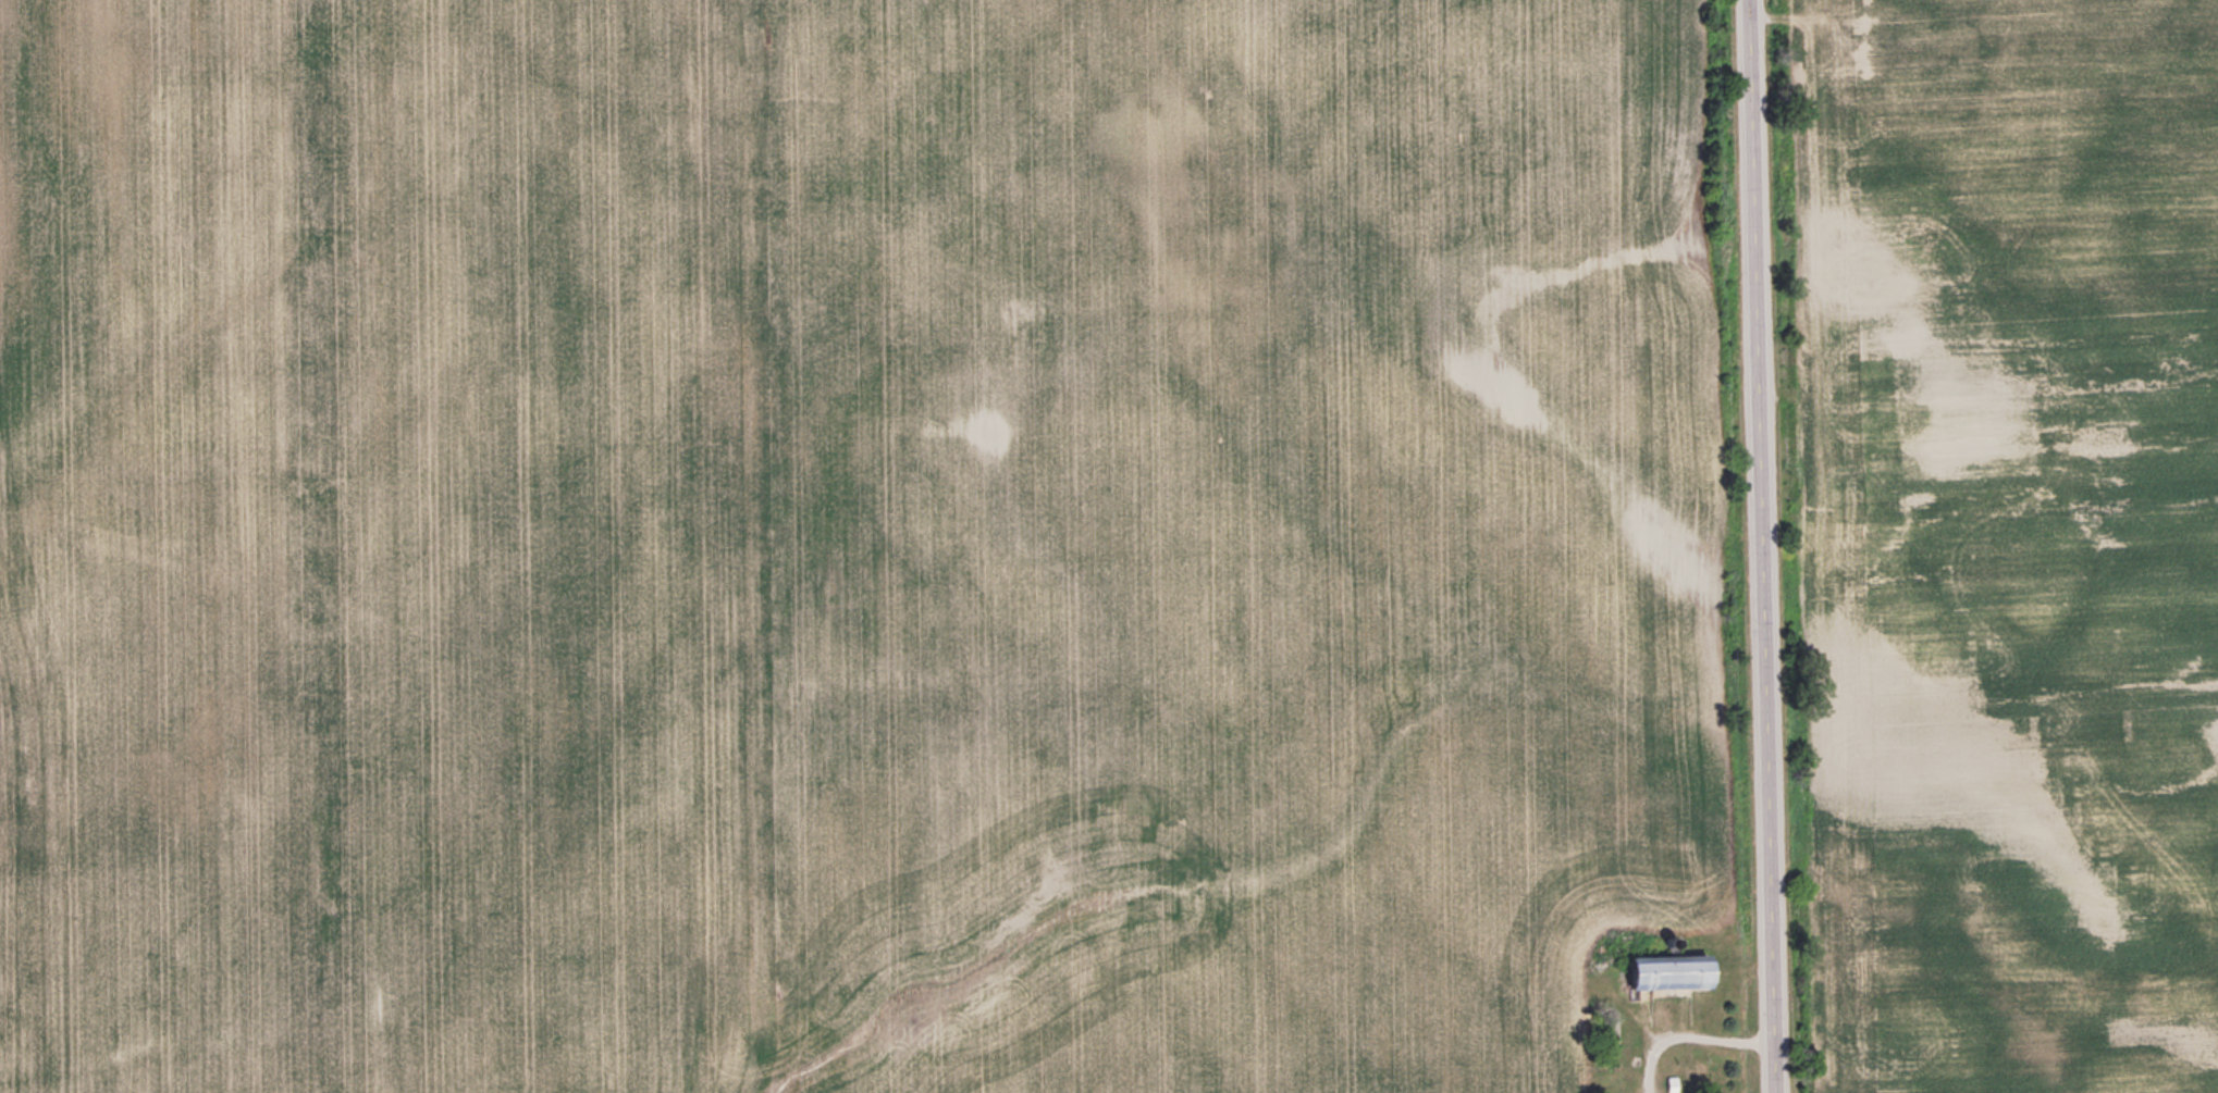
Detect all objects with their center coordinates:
road: (1763, 546)
building: (1674, 973)

